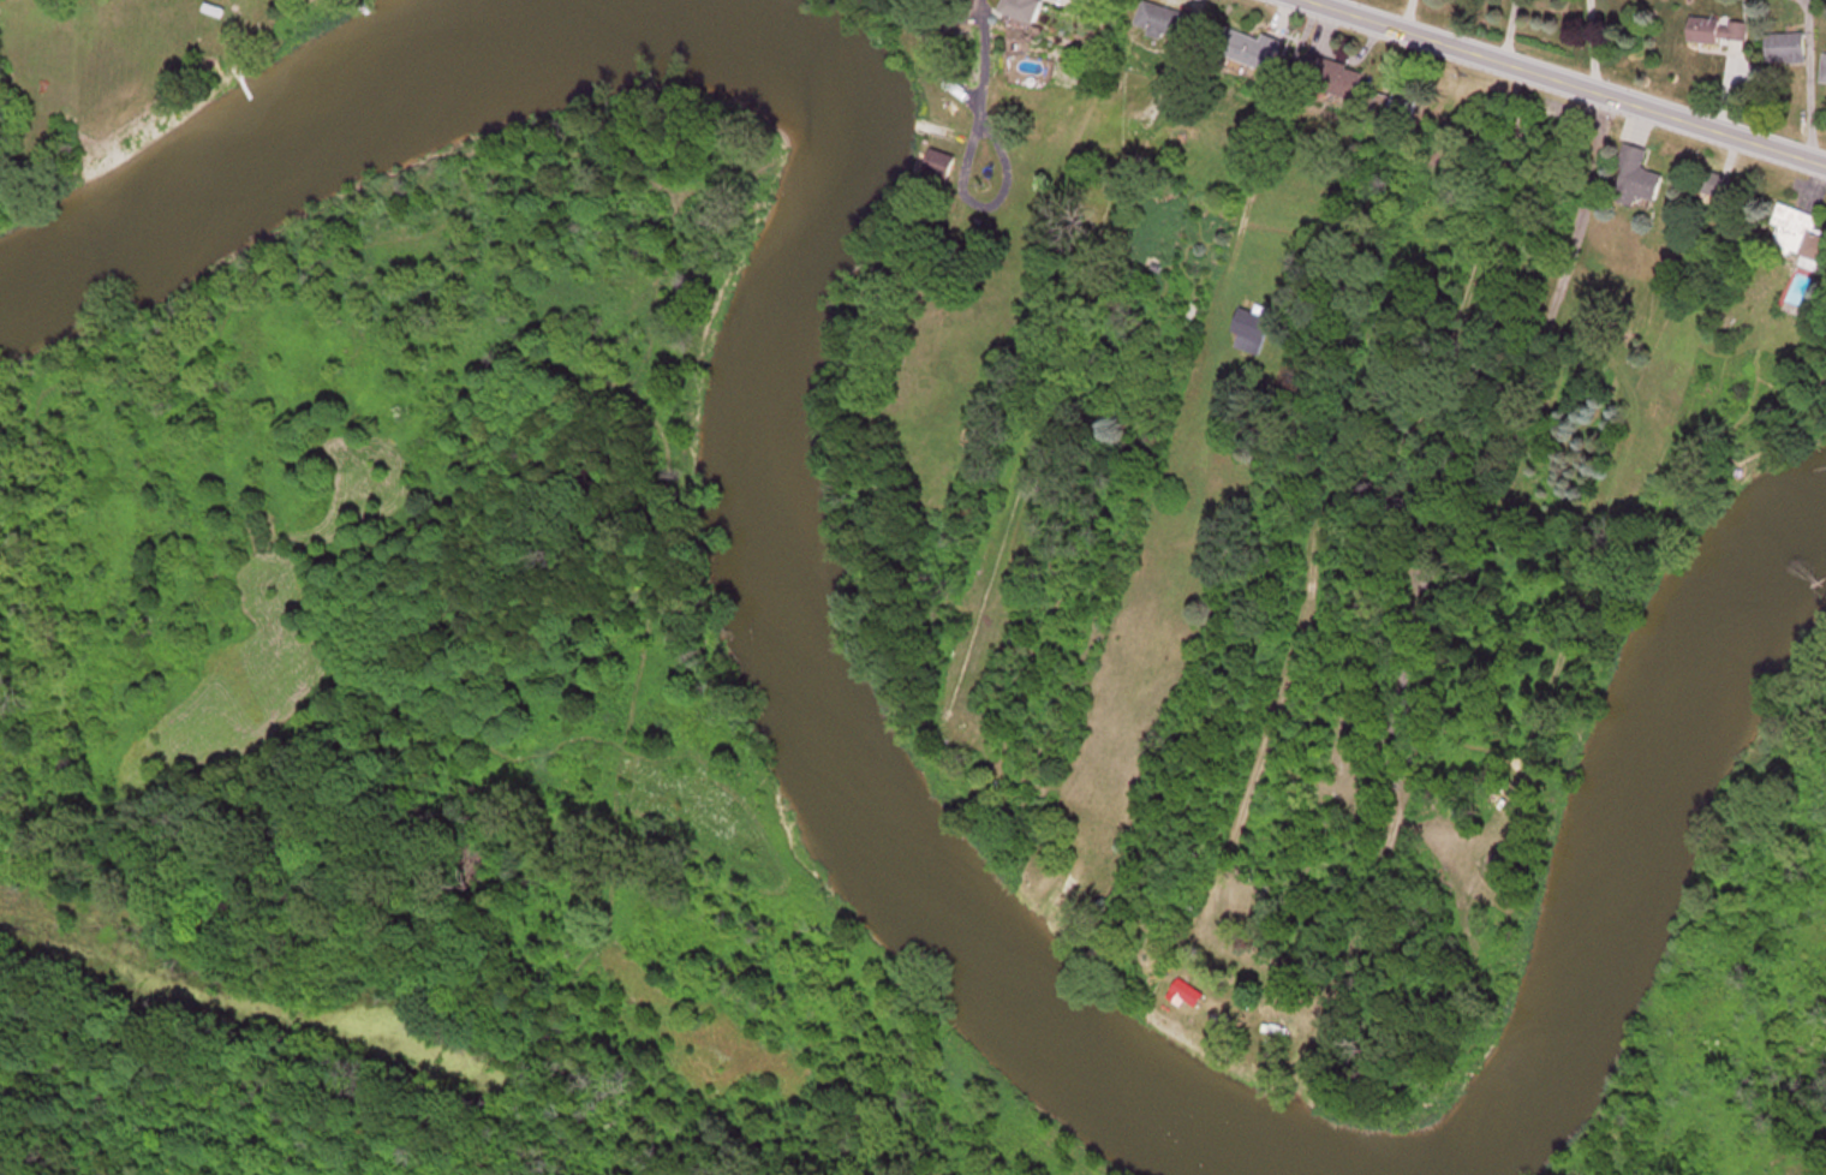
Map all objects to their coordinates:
road: (1319, 4)
building: (1030, 11)
building: (1164, 23)
building: (1720, 32)
building: (1789, 50)
building: (1255, 53)
building: (1030, 72)
road: (1562, 82)
building: (1348, 87)
building: (1398, 112)
building: (943, 169)
building: (1640, 181)
building: (1714, 186)
building: (1800, 232)
river: (816, 260)
building: (1253, 333)
road: (491, 811)
river: (1627, 830)
building: (1188, 996)

